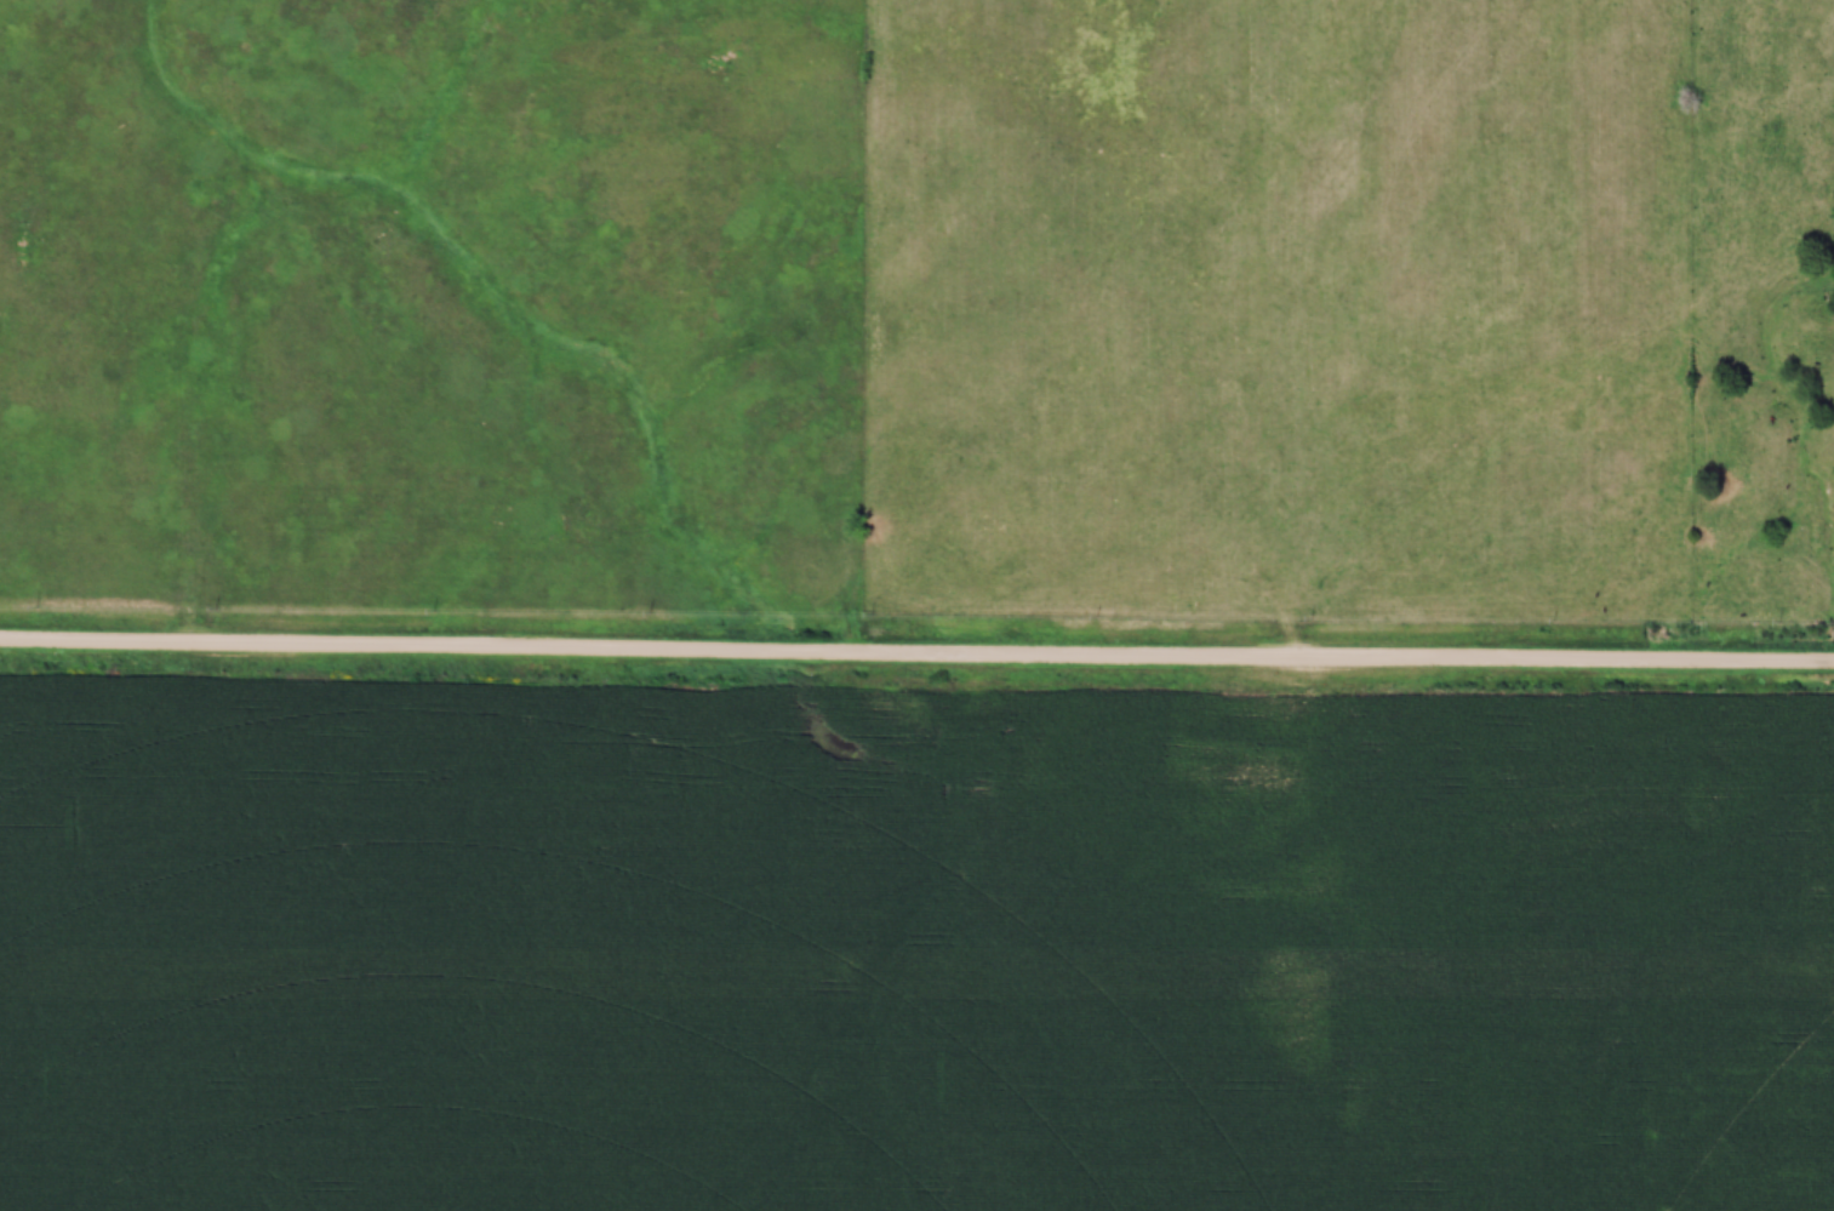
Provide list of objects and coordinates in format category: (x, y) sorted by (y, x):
road: (916, 658)

